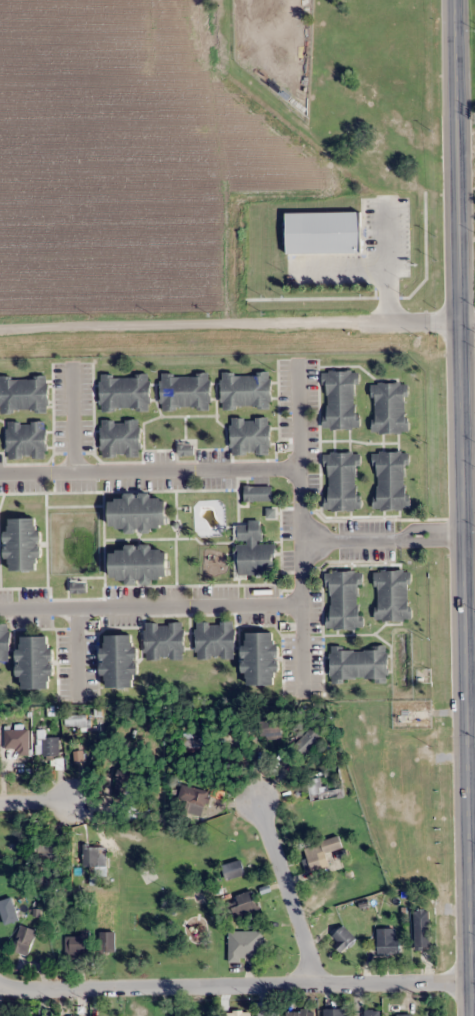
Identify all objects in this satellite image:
road: (469, 315)
road: (231, 321)
building: (246, 390)
building: (185, 391)
building: (124, 392)
building: (23, 394)
building: (340, 400)
building: (389, 408)
road: (74, 418)
building: (250, 436)
building: (120, 438)
building: (26, 440)
road: (466, 458)
road: (149, 472)
building: (391, 480)
building: (342, 481)
building: (258, 493)
building: (137, 513)
road: (300, 521)
road: (384, 535)
building: (23, 544)
building: (253, 550)
building: (139, 564)
building: (392, 596)
building: (343, 600)
road: (150, 607)
building: (215, 640)
building: (164, 641)
building: (4, 642)
road: (78, 652)
building: (261, 659)
building: (118, 660)
building: (35, 662)
building: (359, 664)
road: (473, 693)
building: (77, 720)
building: (271, 727)
building: (191, 740)
building: (309, 740)
building: (47, 743)
building: (316, 788)
road: (41, 792)
building: (195, 799)
building: (47, 852)
building: (322, 852)
building: (93, 855)
building: (235, 869)
road: (291, 887)
building: (245, 904)
building: (421, 928)
building: (342, 938)
building: (24, 940)
building: (387, 940)
building: (107, 941)
building: (78, 944)
building: (245, 946)
road: (236, 979)
building: (269, 1012)
building: (334, 1012)
building: (372, 1012)
building: (239, 1013)
building: (300, 1013)
building: (404, 1015)

